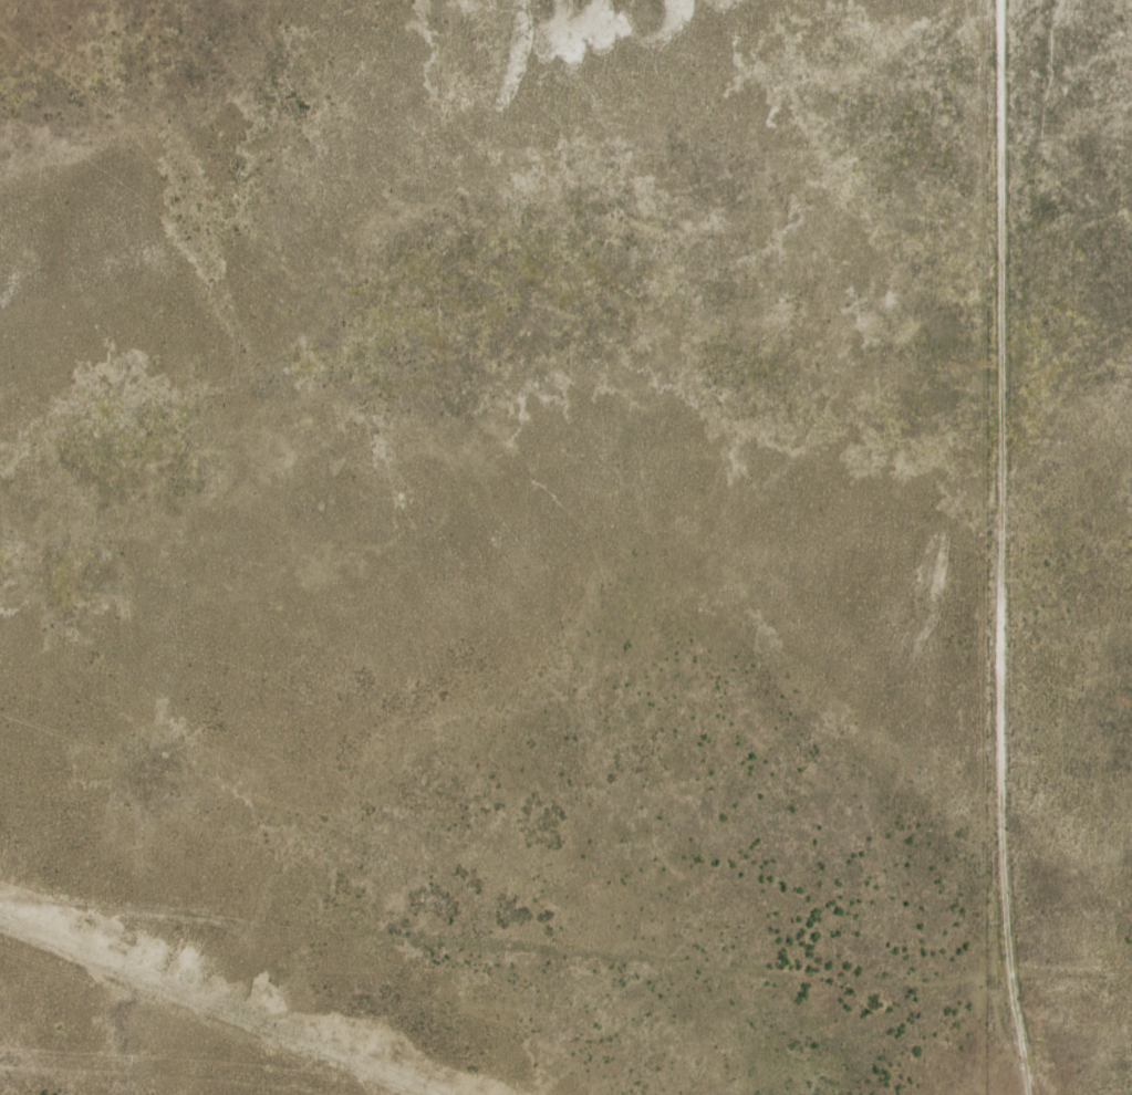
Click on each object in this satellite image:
road: (1018, 547)

